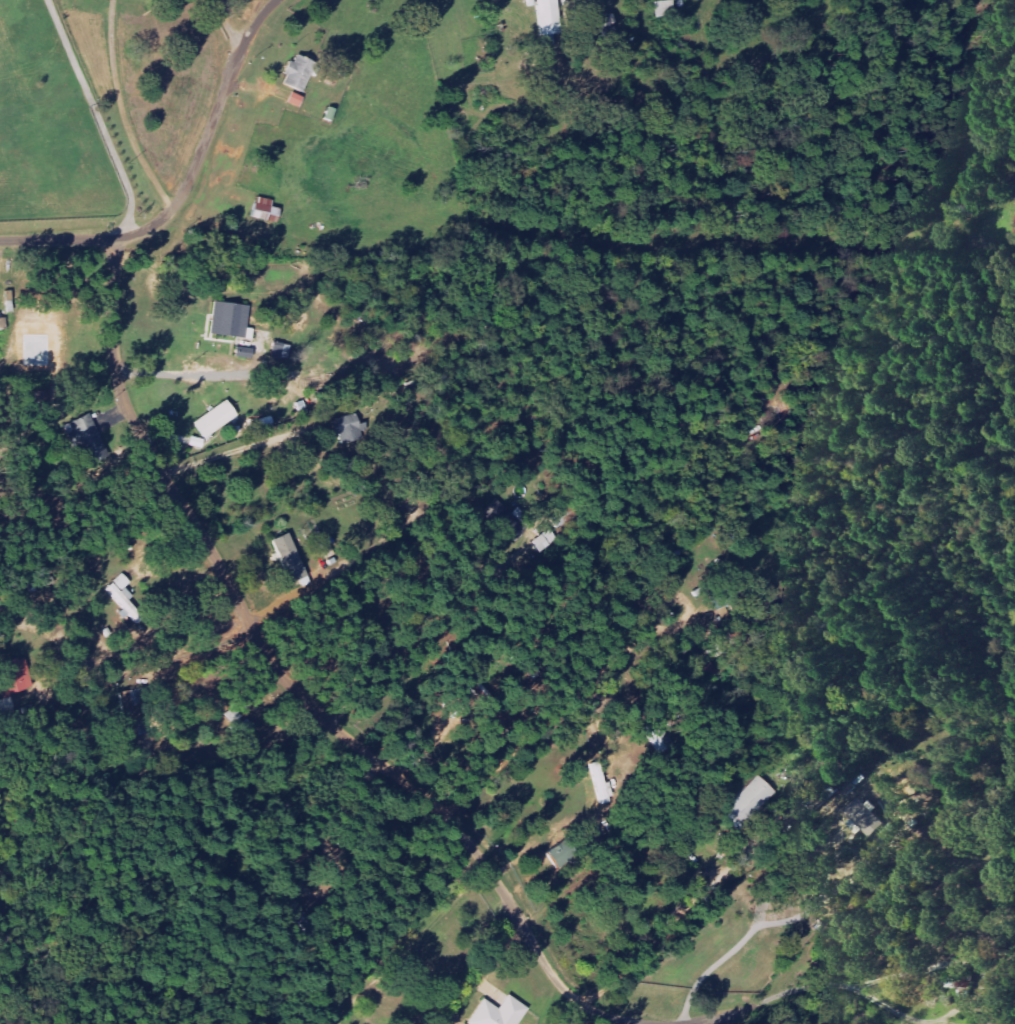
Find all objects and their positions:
building: (551, 21)
road: (228, 25)
building: (301, 72)
building: (297, 99)
road: (97, 117)
road: (184, 185)
building: (268, 210)
building: (232, 319)
building: (283, 350)
building: (219, 419)
building: (351, 429)
building: (92, 439)
building: (291, 558)
building: (127, 599)
road: (361, 612)
road: (294, 689)
building: (141, 702)
building: (842, 771)
building: (603, 782)
building: (753, 800)
building: (870, 819)
building: (565, 854)
building: (496, 1012)
road: (711, 1020)

